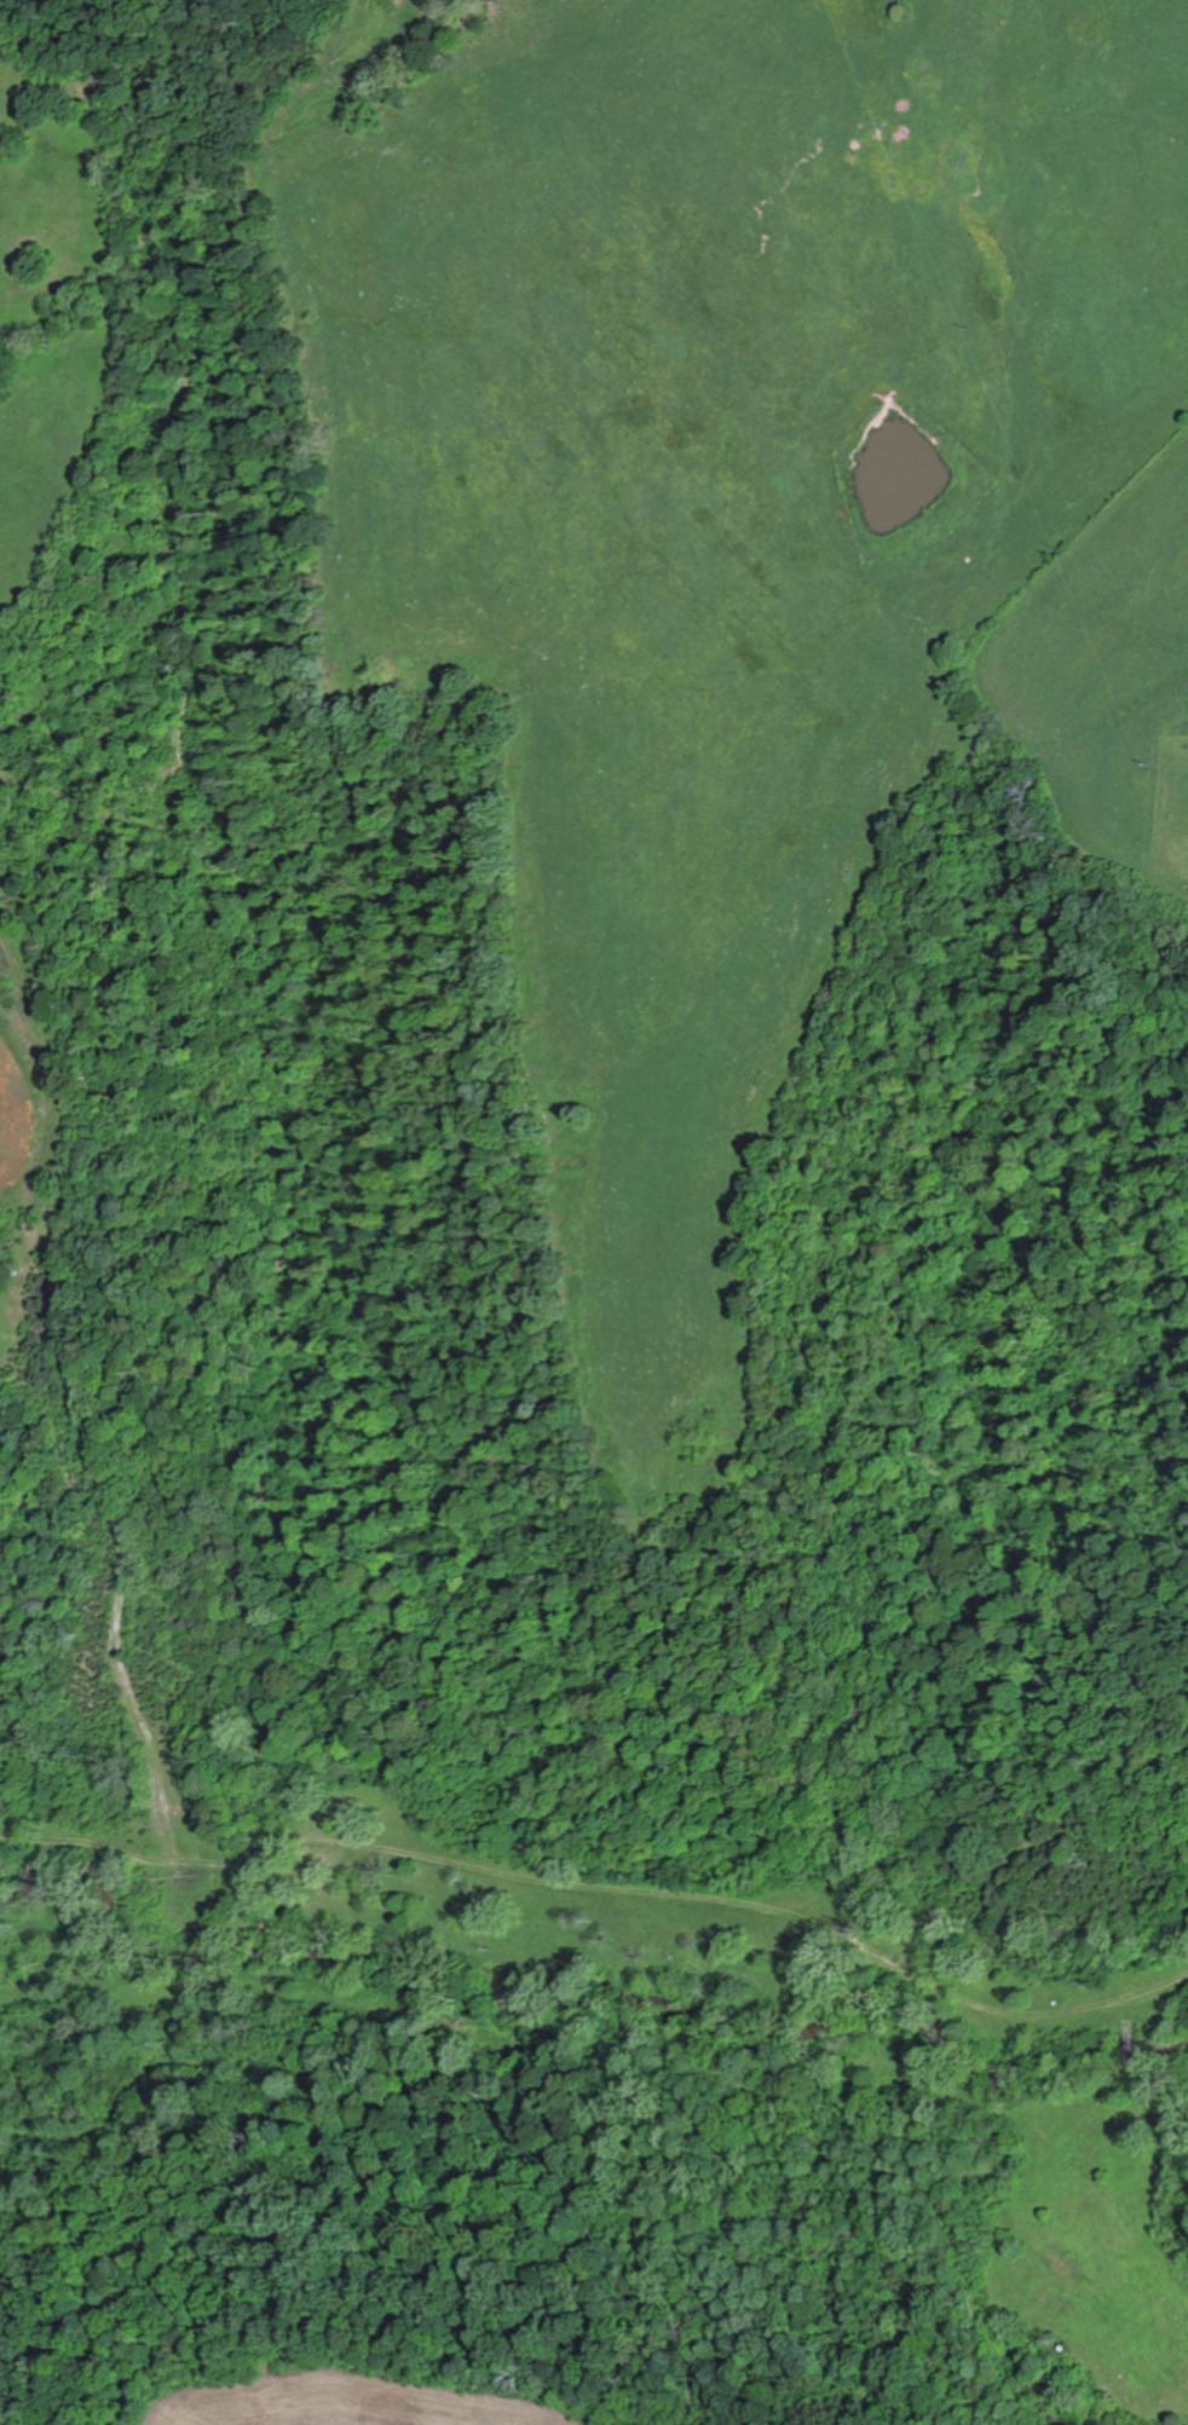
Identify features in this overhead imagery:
road: (975, 648)

